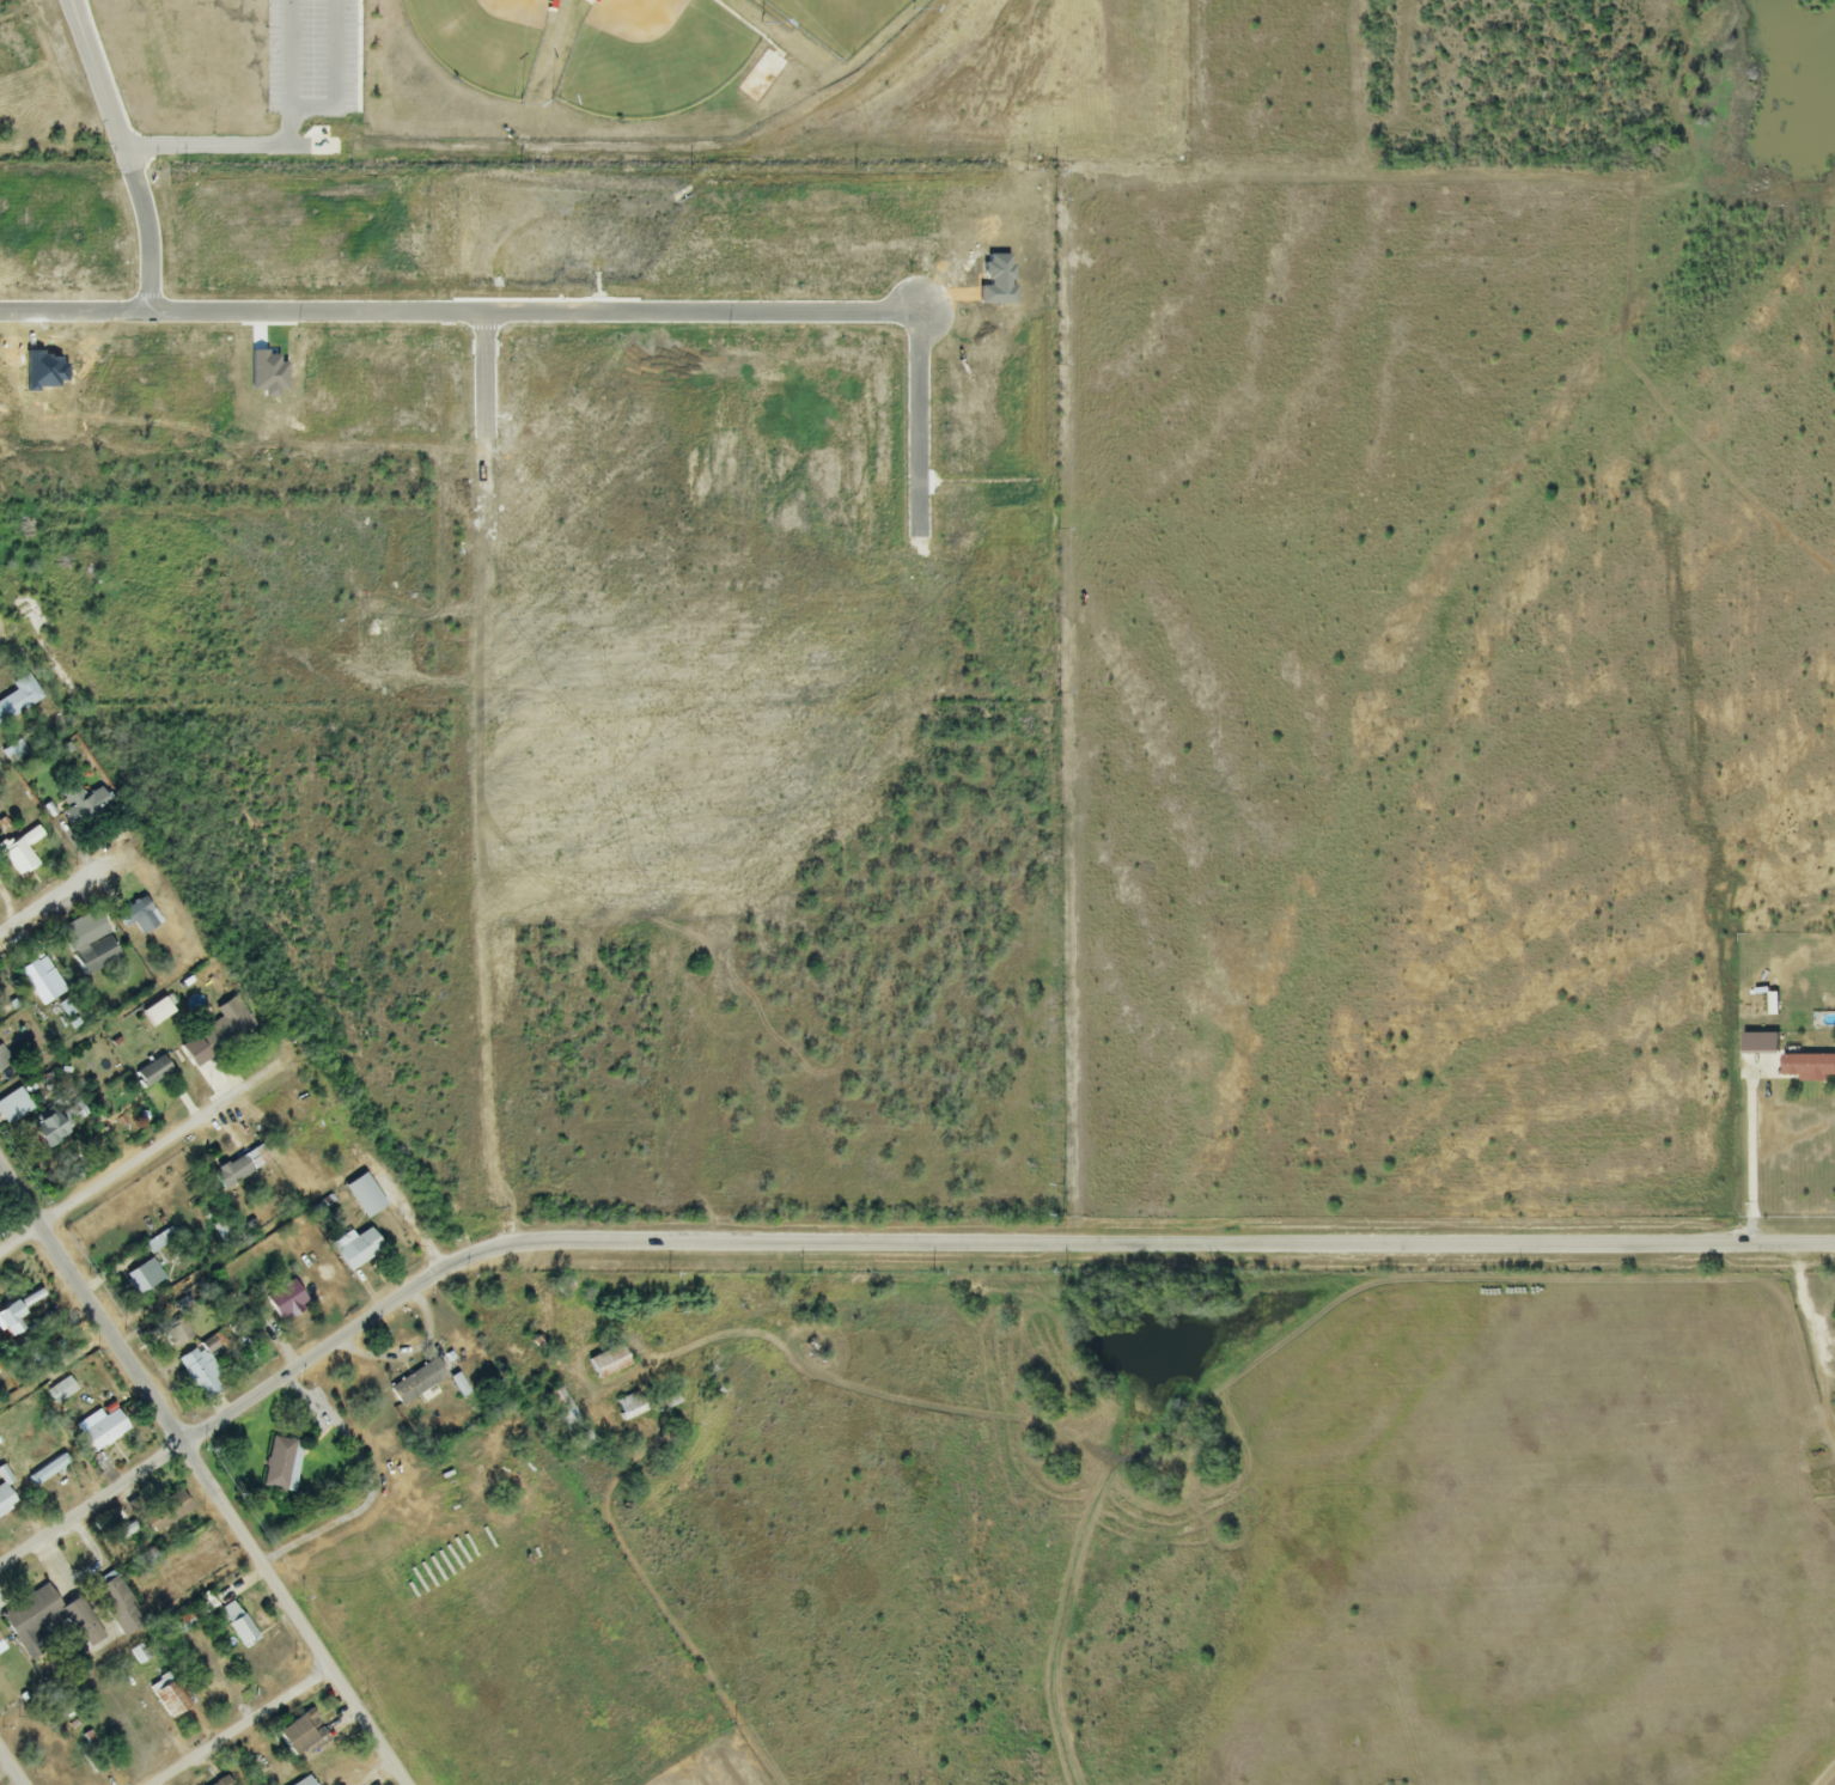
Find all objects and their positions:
road: (89, 48)
road: (318, 115)
road: (170, 144)
road: (147, 225)
road: (565, 309)
building: (31, 615)
building: (17, 700)
building: (80, 805)
building: (19, 852)
road: (55, 898)
building: (138, 916)
building: (87, 945)
building: (41, 981)
building: (159, 1010)
building: (222, 1029)
building: (2, 1062)
building: (1807, 1066)
building: (151, 1073)
building: (13, 1107)
building: (45, 1129)
road: (138, 1152)
road: (1754, 1159)
building: (239, 1168)
building: (362, 1196)
road: (871, 1244)
building: (358, 1250)
building: (312, 1261)
building: (141, 1278)
building: (284, 1299)
road: (161, 1302)
building: (7, 1316)
building: (171, 1328)
building: (606, 1363)
building: (200, 1373)
building: (416, 1383)
building: (59, 1391)
building: (629, 1407)
building: (102, 1434)
building: (278, 1464)
building: (48, 1470)
road: (200, 1478)
building: (163, 1512)
building: (115, 1607)
building: (47, 1620)
building: (237, 1625)
building: (166, 1696)
road: (250, 1731)
building: (297, 1734)
road: (12, 1766)
building: (221, 1781)
building: (304, 1781)

